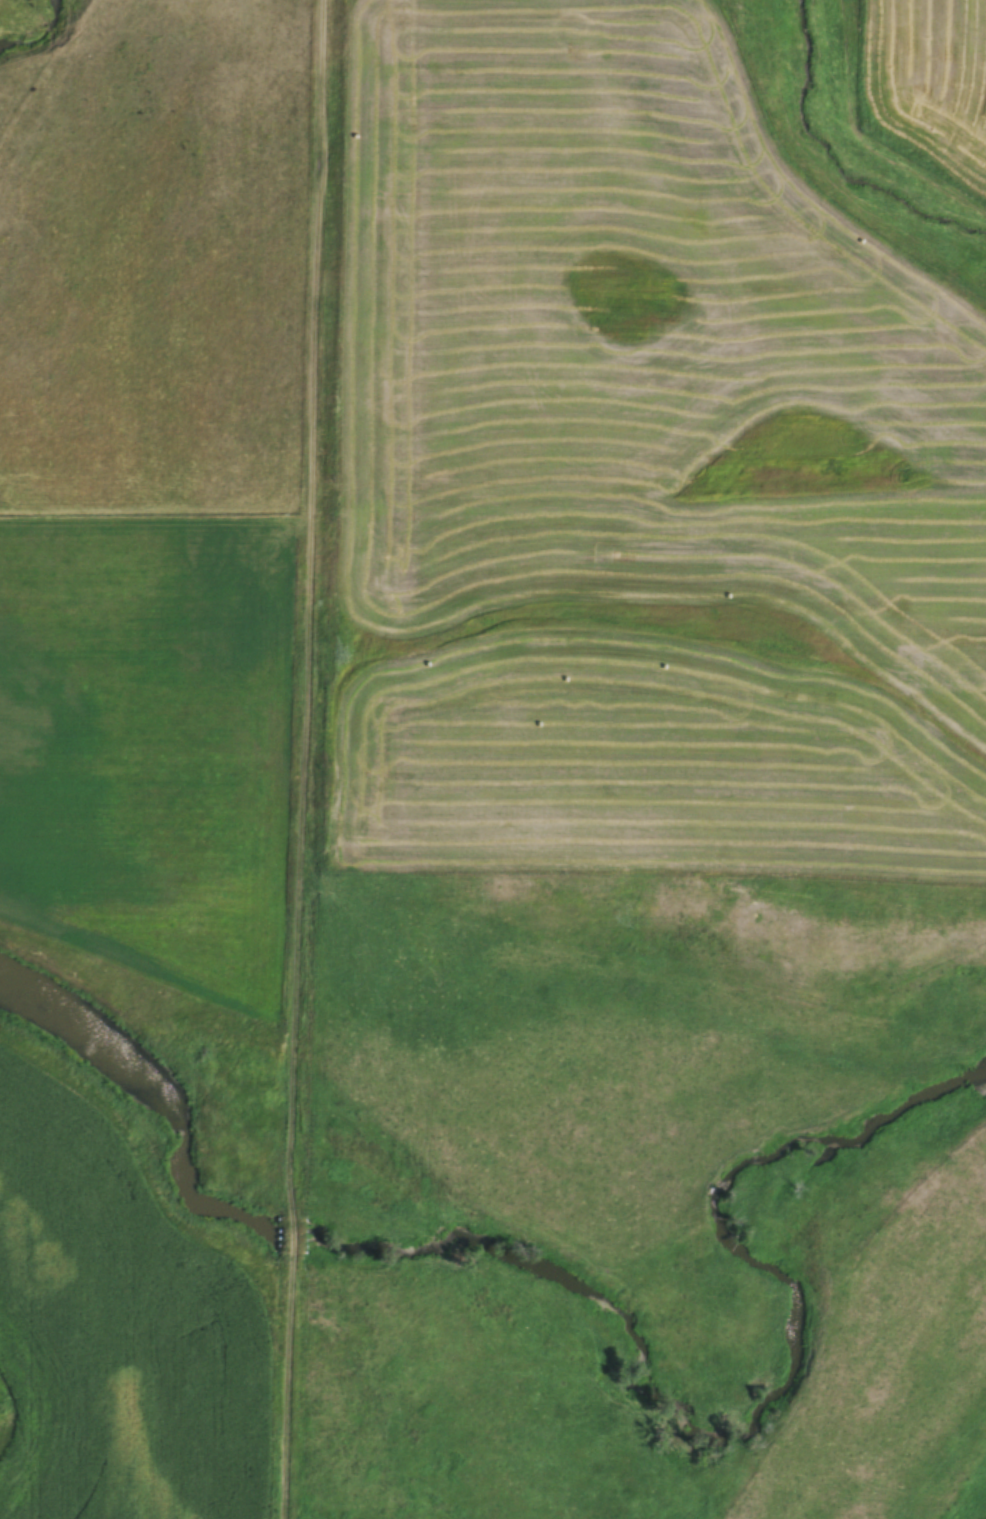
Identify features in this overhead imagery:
road: (317, 759)

